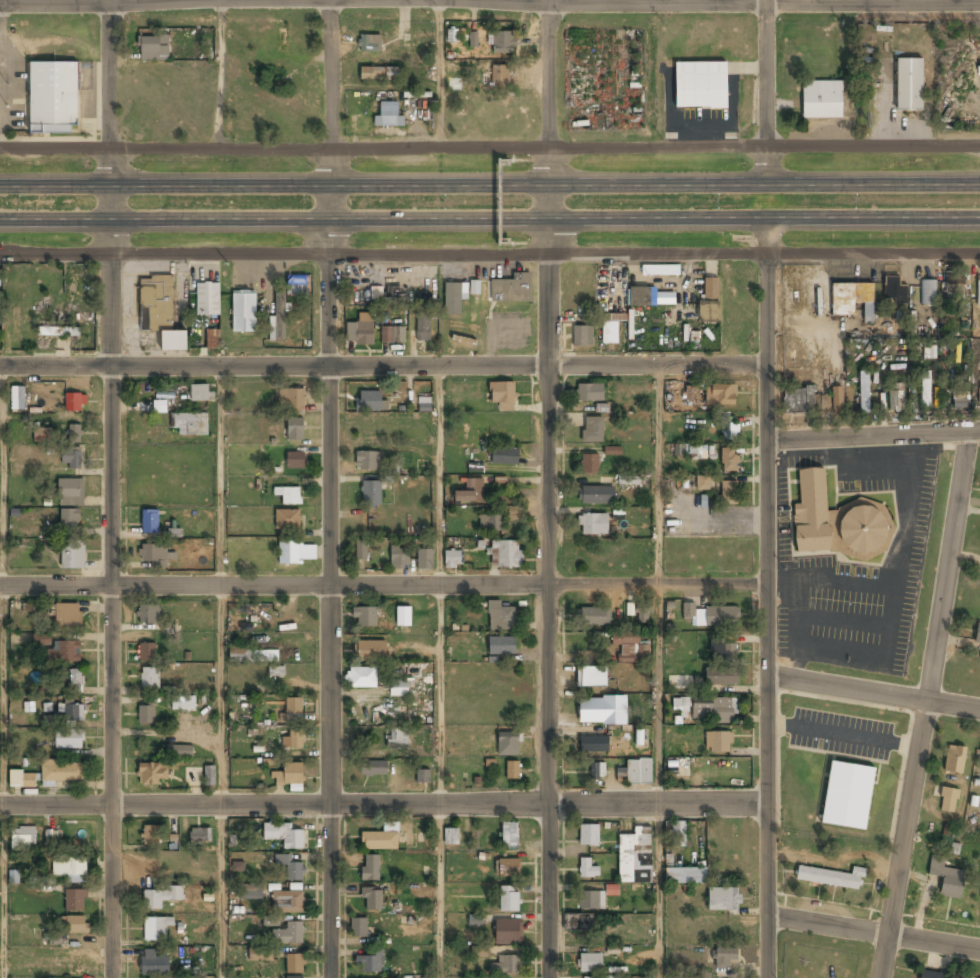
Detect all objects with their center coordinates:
road: (219, 1)
road: (489, 2)
road: (654, 2)
road: (1, 3)
building: (452, 35)
building: (282, 38)
building: (473, 39)
building: (503, 42)
building: (370, 43)
building: (152, 48)
building: (268, 73)
building: (379, 74)
building: (499, 75)
building: (701, 85)
building: (909, 86)
road: (764, 93)
building: (52, 98)
building: (822, 101)
building: (387, 116)
road: (490, 148)
road: (489, 186)
road: (489, 219)
road: (490, 256)
building: (296, 285)
building: (474, 287)
building: (954, 287)
building: (894, 289)
building: (512, 290)
building: (978, 291)
building: (928, 292)
building: (388, 294)
building: (642, 297)
building: (453, 299)
building: (851, 299)
building: (207, 300)
building: (710, 301)
building: (160, 311)
building: (244, 313)
building: (279, 317)
building: (16, 326)
building: (423, 328)
building: (611, 329)
building: (59, 332)
building: (359, 334)
building: (399, 335)
building: (582, 336)
building: (212, 340)
building: (463, 340)
road: (383, 365)
building: (925, 388)
building: (689, 392)
building: (863, 392)
building: (199, 393)
building: (590, 393)
building: (164, 395)
building: (503, 395)
building: (721, 395)
building: (895, 398)
building: (18, 399)
building: (836, 399)
building: (959, 399)
building: (798, 400)
building: (291, 401)
building: (370, 402)
building: (73, 403)
building: (425, 405)
building: (159, 406)
building: (189, 424)
building: (296, 429)
building: (593, 430)
building: (730, 430)
building: (42, 433)
building: (74, 434)
road: (874, 437)
building: (612, 450)
building: (690, 450)
building: (505, 456)
building: (72, 459)
building: (296, 460)
building: (729, 461)
building: (368, 462)
building: (589, 464)
road: (221, 475)
road: (440, 475)
road: (661, 475)
road: (2, 476)
building: (628, 480)
building: (703, 483)
road: (112, 488)
road: (330, 488)
road: (548, 488)
building: (70, 492)
building: (371, 493)
building: (470, 493)
building: (729, 493)
building: (289, 495)
building: (597, 495)
building: (69, 519)
building: (288, 519)
building: (834, 521)
building: (150, 522)
building: (491, 523)
building: (593, 525)
building: (49, 545)
building: (361, 551)
building: (289, 553)
building: (506, 553)
building: (154, 554)
building: (73, 555)
building: (400, 557)
building: (425, 559)
building: (453, 559)
road: (383, 586)
road: (766, 598)
building: (642, 612)
building: (148, 615)
building: (404, 616)
building: (501, 616)
building: (709, 616)
building: (68, 617)
building: (365, 617)
building: (595, 617)
building: (977, 633)
building: (41, 639)
building: (502, 647)
building: (628, 647)
building: (371, 650)
building: (723, 651)
building: (64, 652)
building: (147, 653)
building: (253, 655)
building: (276, 671)
building: (721, 677)
building: (149, 678)
building: (362, 678)
building: (592, 678)
building: (70, 681)
building: (399, 689)
road: (872, 693)
road: (660, 694)
road: (221, 695)
road: (441, 695)
road: (2, 696)
building: (183, 704)
building: (681, 705)
road: (925, 705)
building: (293, 707)
building: (712, 710)
building: (600, 711)
building: (69, 713)
building: (146, 715)
building: (68, 739)
building: (398, 739)
building: (510, 739)
building: (293, 740)
building: (718, 743)
building: (594, 745)
building: (179, 751)
building: (954, 758)
building: (373, 769)
building: (513, 771)
building: (62, 772)
building: (597, 772)
building: (639, 773)
building: (152, 774)
building: (209, 775)
building: (289, 775)
building: (423, 777)
building: (22, 780)
building: (847, 796)
building: (948, 799)
road: (382, 804)
building: (675, 833)
building: (150, 835)
building: (200, 836)
building: (284, 836)
building: (589, 836)
building: (50, 837)
building: (452, 837)
building: (510, 837)
building: (23, 838)
building: (381, 840)
building: (635, 857)
building: (290, 868)
building: (507, 868)
building: (69, 869)
building: (370, 869)
building: (588, 869)
building: (831, 876)
building: (686, 877)
building: (946, 877)
building: (13, 878)
building: (611, 889)
road: (660, 890)
road: (220, 891)
road: (441, 891)
road: (2, 892)
building: (160, 897)
building: (372, 900)
building: (509, 900)
building: (724, 900)
building: (75, 901)
building: (591, 901)
building: (287, 902)
building: (270, 920)
building: (475, 920)
building: (577, 923)
building: (77, 925)
building: (156, 928)
building: (359, 928)
building: (508, 931)
road: (873, 932)
building: (289, 934)
building: (478, 951)
building: (260, 953)
building: (725, 960)
building: (153, 964)
building: (295, 964)
building: (369, 964)
building: (590, 964)
building: (74, 966)
building: (506, 966)
building: (932, 974)
building: (594, 977)
building: (968, 977)

